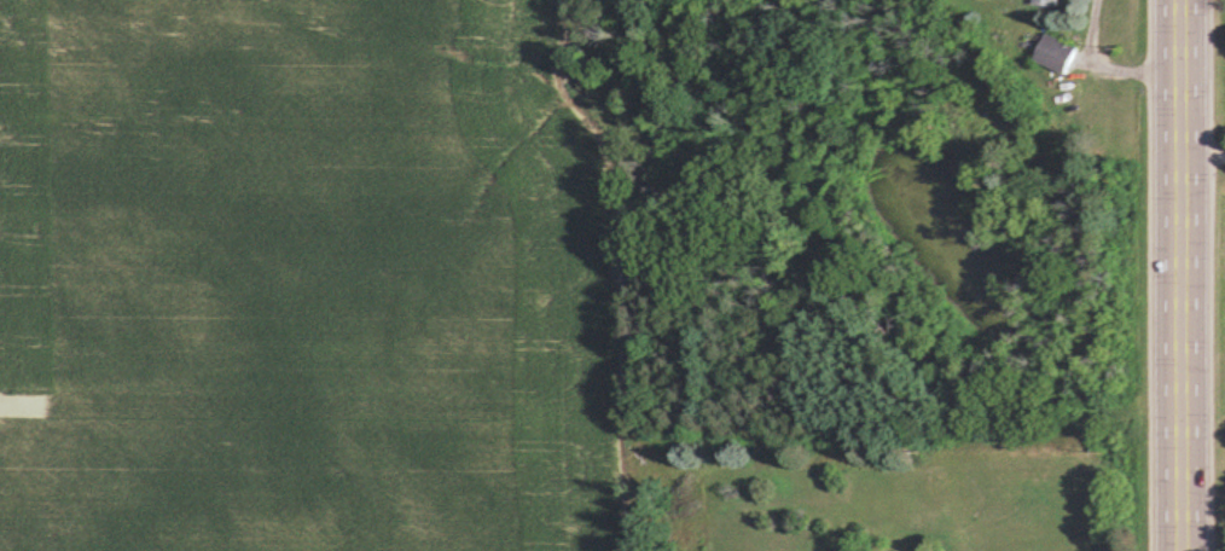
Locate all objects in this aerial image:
building: (1046, 1)
building: (1056, 52)
road: (1103, 65)
road: (1202, 155)
road: (1179, 275)
building: (936, 550)

